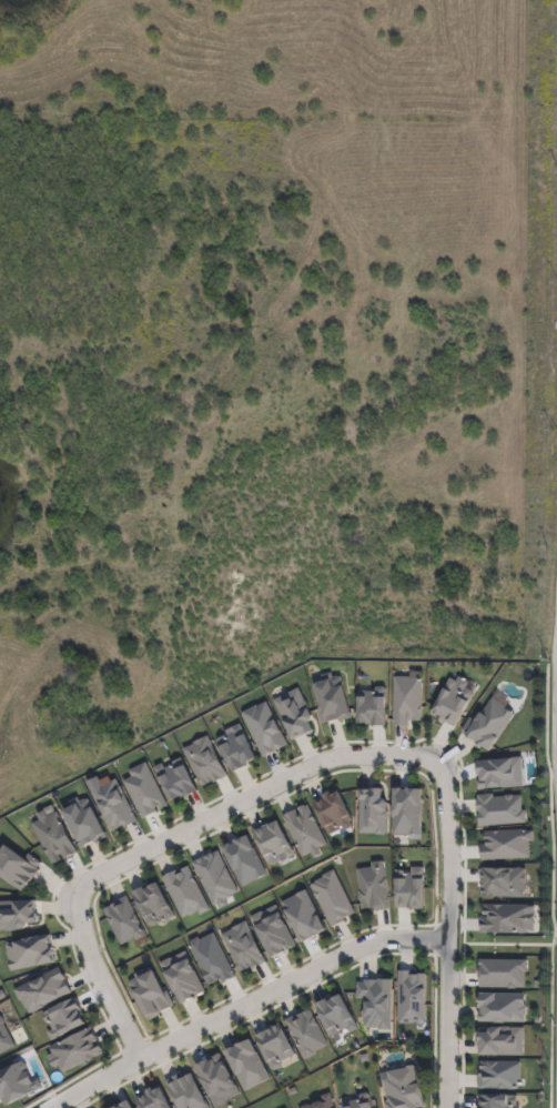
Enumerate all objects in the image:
building: (332, 698)
building: (407, 701)
building: (453, 704)
building: (373, 706)
building: (296, 714)
building: (490, 725)
building: (265, 729)
building: (237, 749)
building: (206, 763)
building: (502, 774)
building: (178, 780)
building: (145, 792)
building: (114, 806)
building: (336, 809)
building: (502, 812)
building: (375, 813)
building: (409, 813)
building: (85, 824)
building: (306, 829)
building: (54, 838)
building: (275, 840)
building: (508, 843)
road: (445, 846)
road: (165, 847)
building: (246, 863)
building: (18, 869)
building: (216, 879)
building: (504, 883)
building: (374, 886)
building: (412, 887)
building: (186, 890)
building: (333, 899)
building: (154, 901)
building: (18, 916)
building: (305, 917)
building: (507, 918)
building: (124, 919)
building: (274, 933)
building: (244, 946)
building: (31, 954)
building: (213, 957)
building: (504, 974)
building: (183, 979)
building: (44, 991)
building: (151, 991)
building: (412, 999)
building: (378, 1005)
road: (245, 1008)
building: (504, 1009)
building: (337, 1015)
building: (64, 1020)
road: (445, 1024)
building: (307, 1031)
building: (4, 1038)
building: (504, 1044)
building: (277, 1045)
building: (77, 1051)
building: (250, 1067)
building: (498, 1074)
building: (219, 1081)
building: (16, 1082)
building: (404, 1088)
building: (186, 1092)
building: (154, 1099)
building: (498, 1100)
building: (328, 1102)
building: (367, 1105)
building: (128, 1106)
building: (311, 1107)

